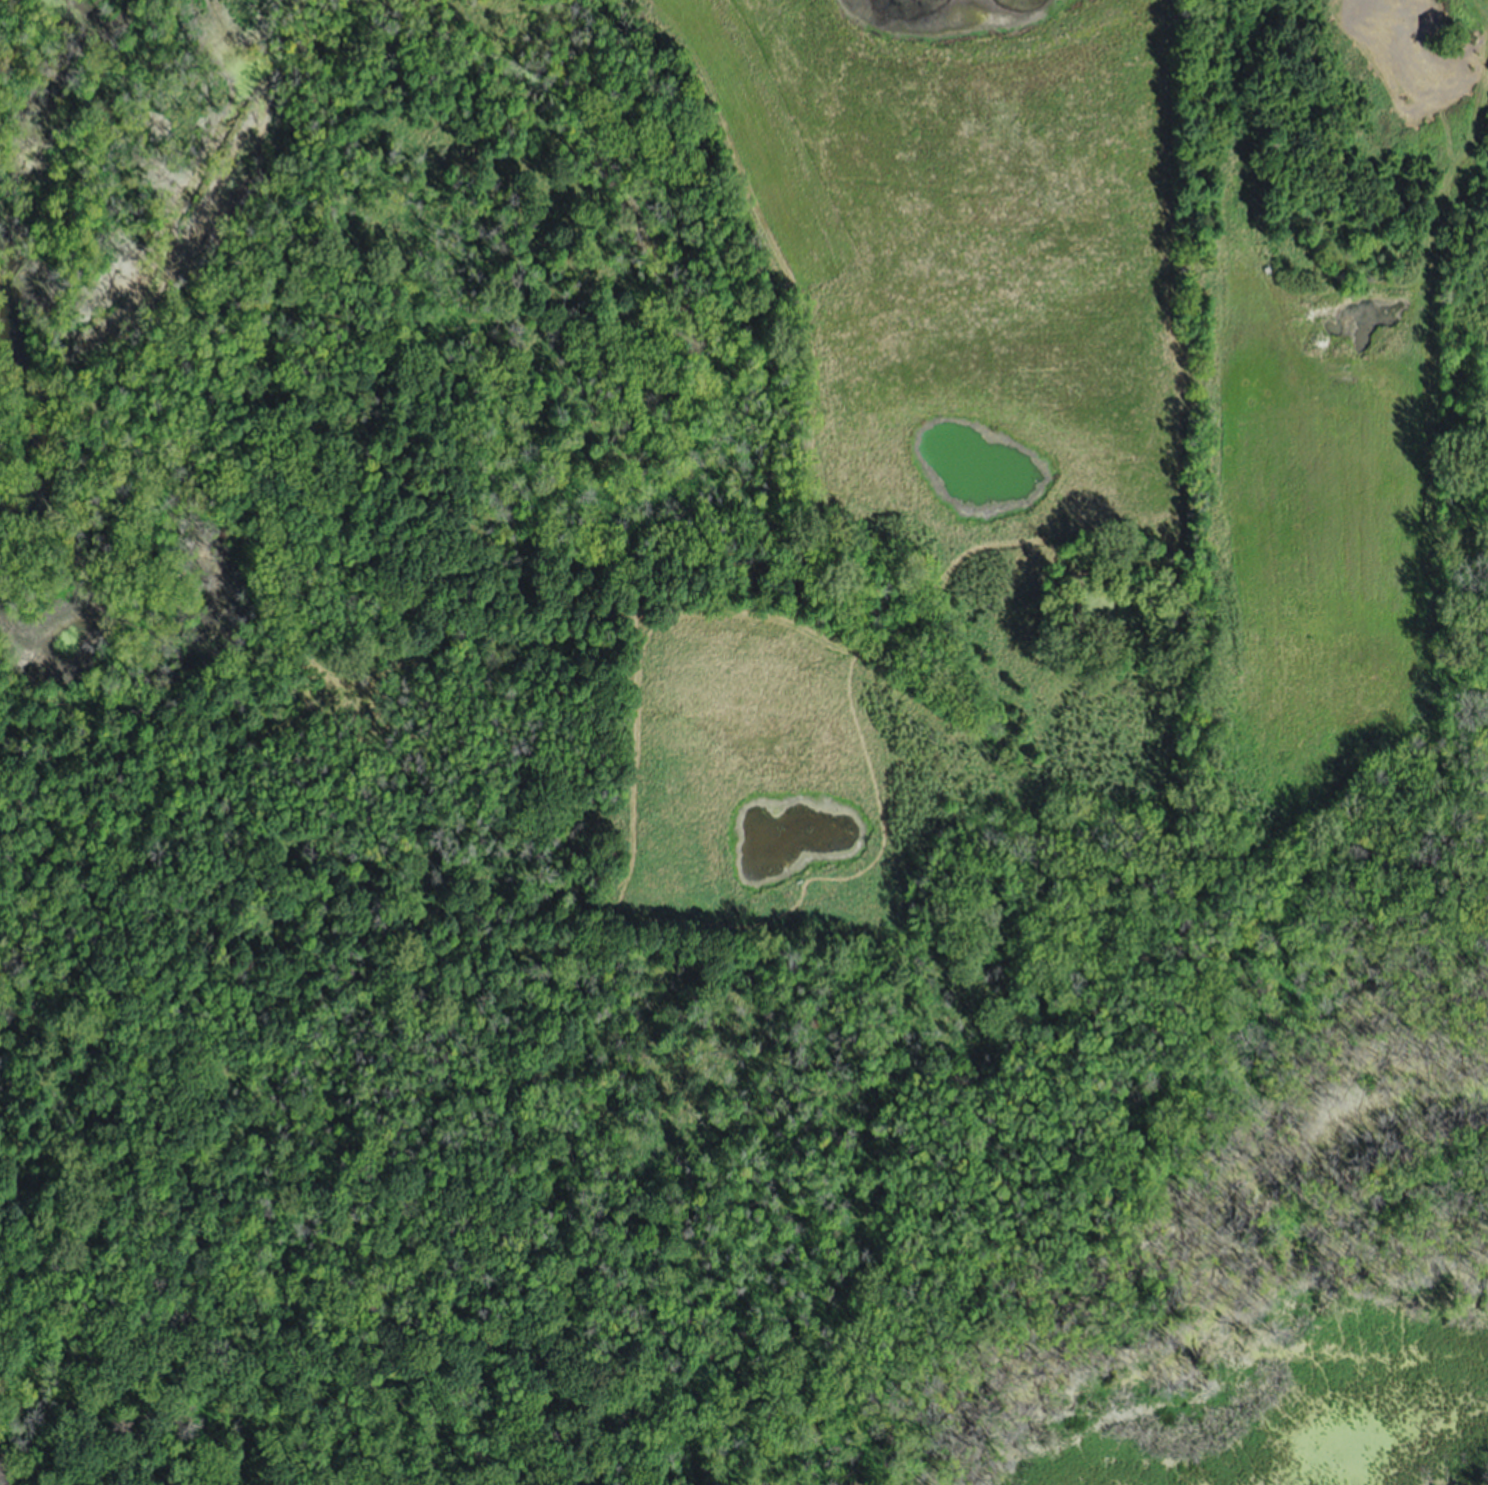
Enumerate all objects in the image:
river: (28, 409)

